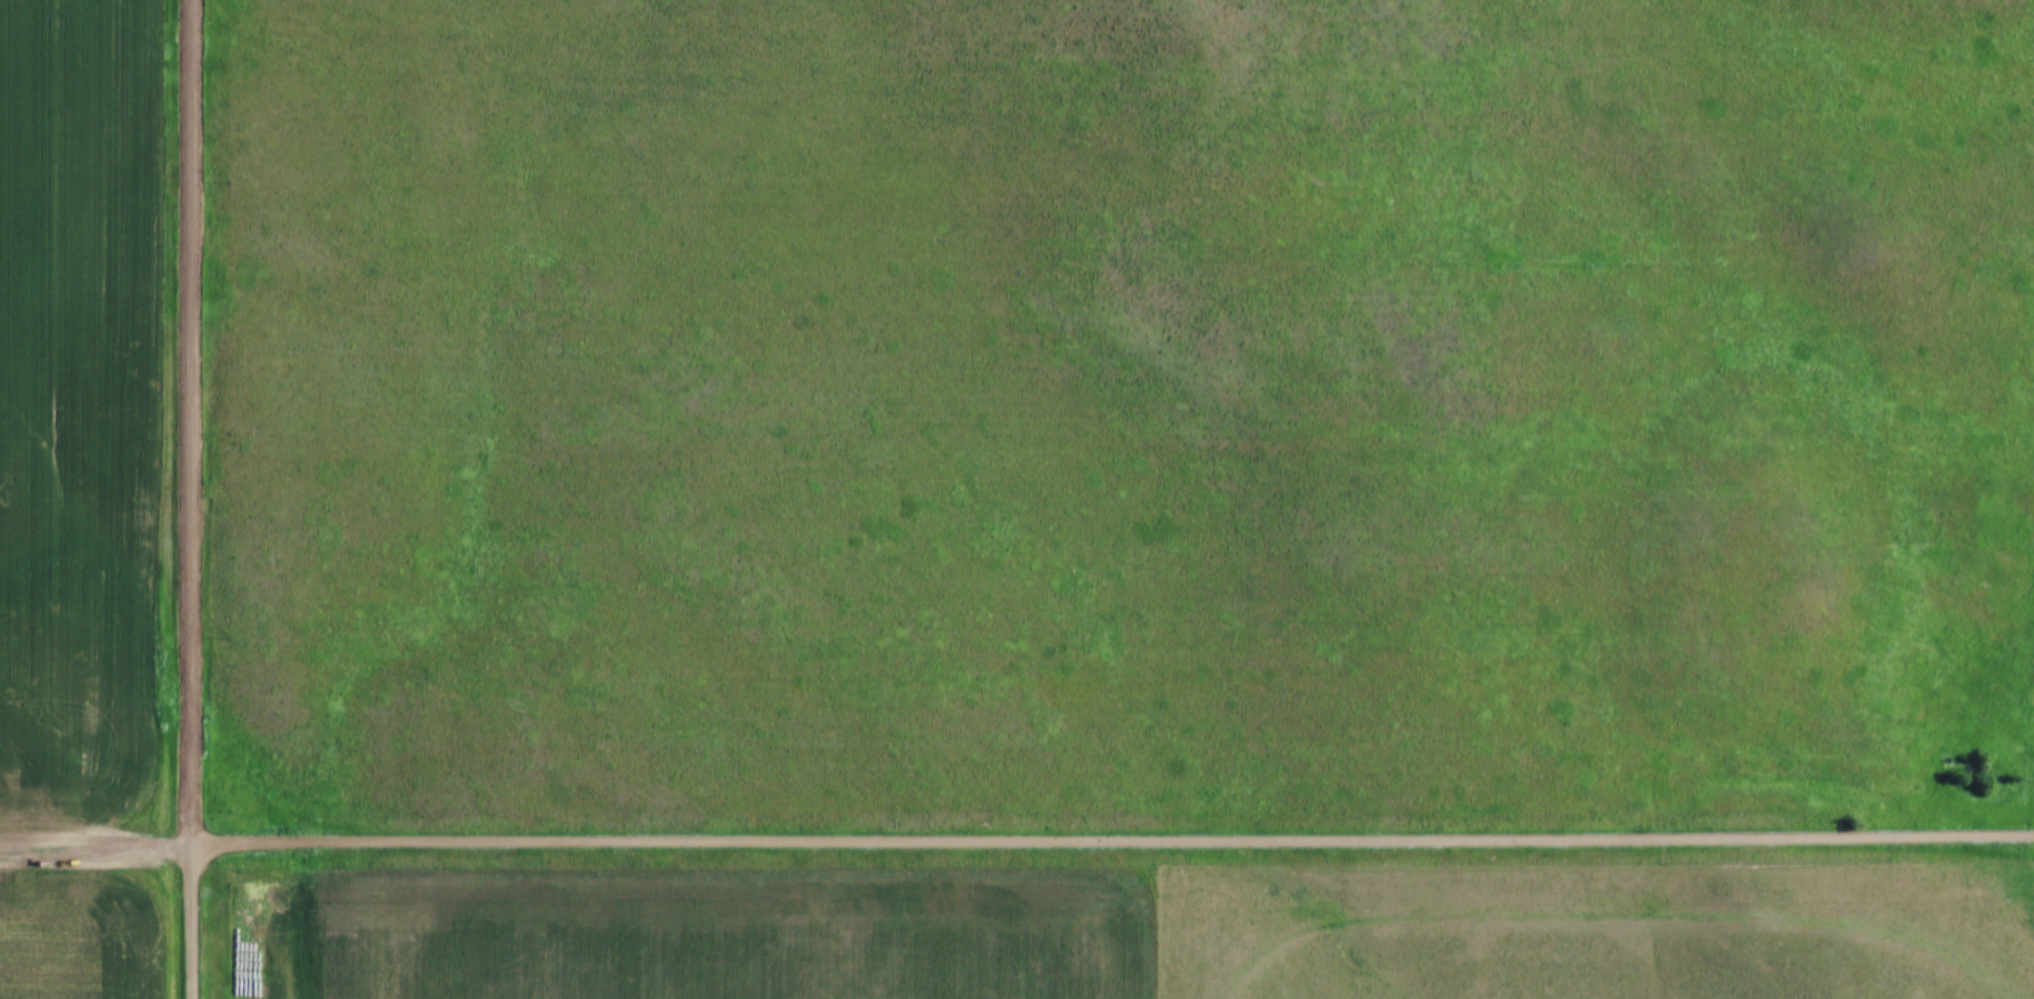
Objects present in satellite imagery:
road: (190, 499)
road: (94, 838)
road: (1110, 840)
road: (1618, 912)

